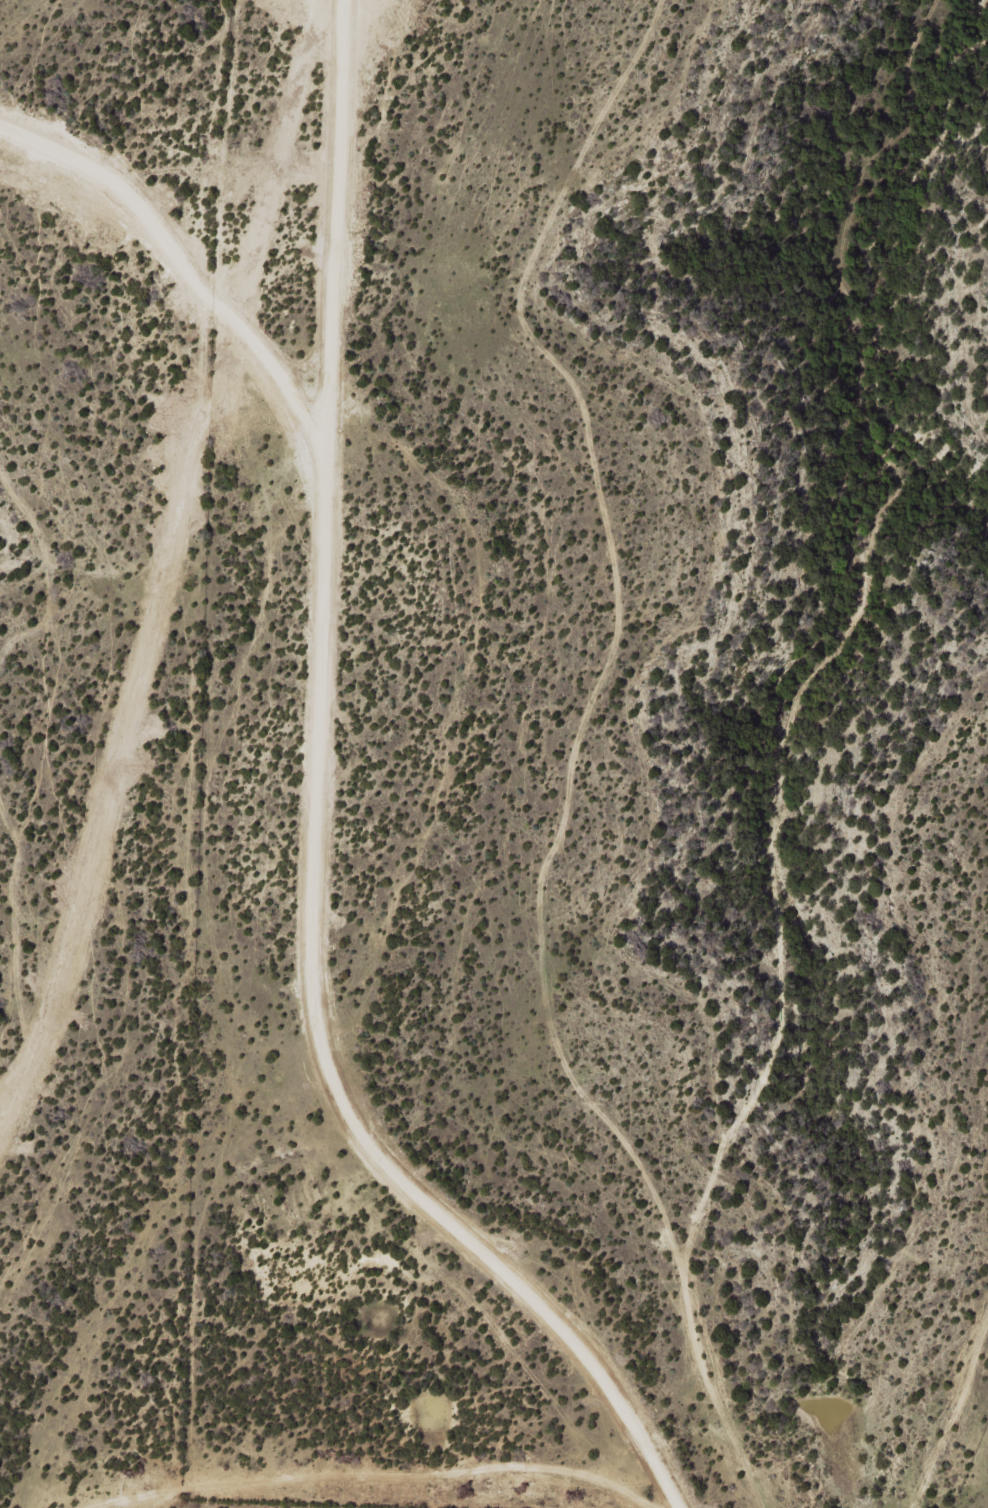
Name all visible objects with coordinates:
road: (804, 749)
road: (402, 1489)

